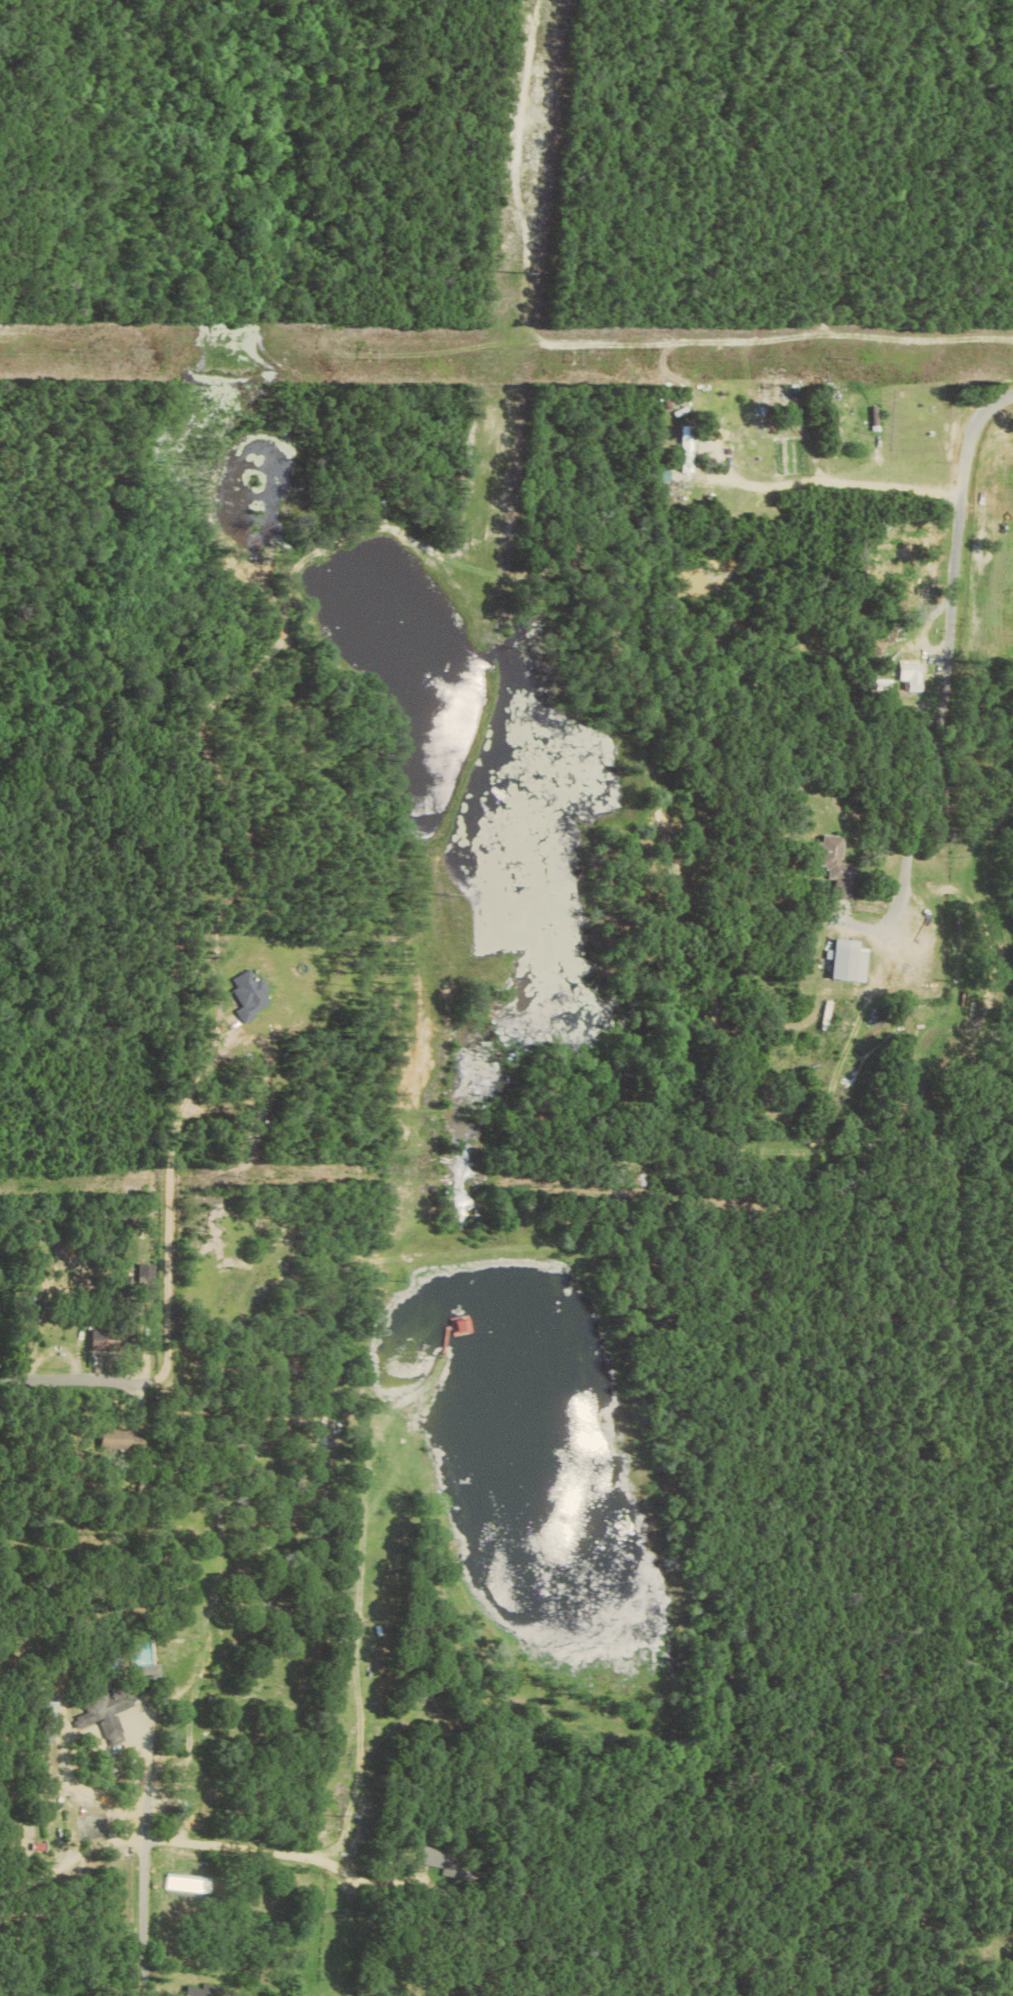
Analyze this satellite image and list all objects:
building: (687, 449)
road: (841, 473)
road: (949, 656)
building: (912, 676)
building: (834, 867)
building: (848, 962)
building: (252, 995)
road: (161, 1206)
building: (97, 1340)
road: (69, 1387)
building: (115, 1439)
building: (113, 1702)
road: (70, 1860)
road: (144, 1862)
building: (204, 1991)

